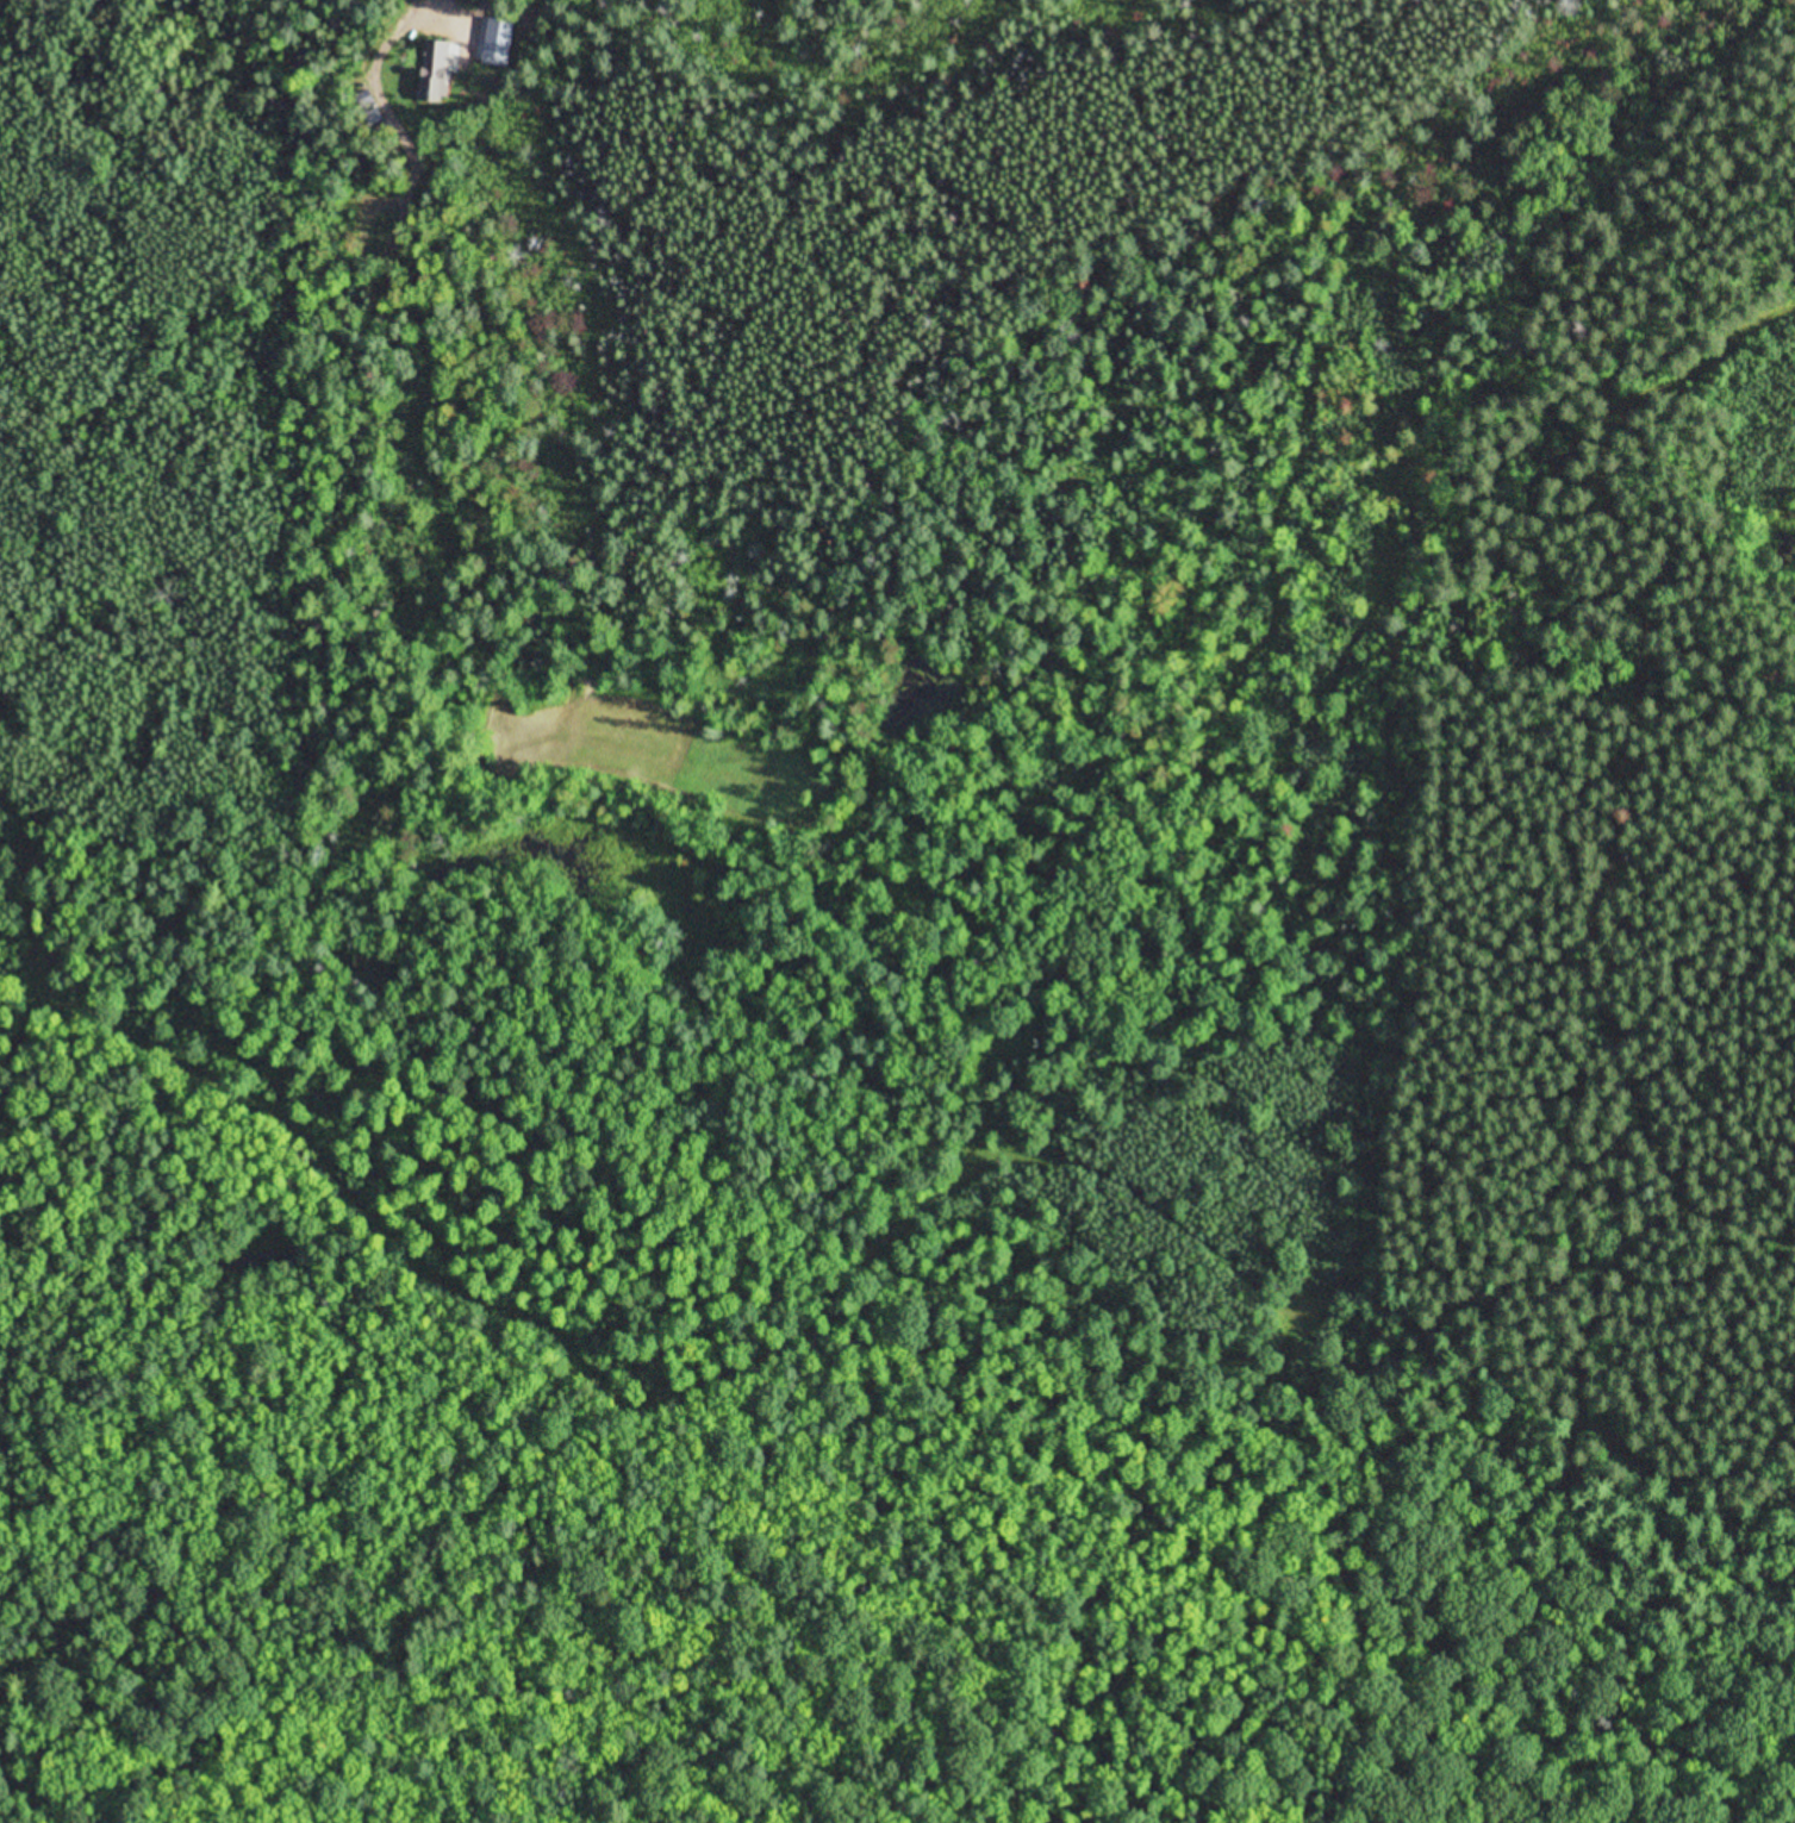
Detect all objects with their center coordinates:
building: (496, 42)
building: (434, 71)

